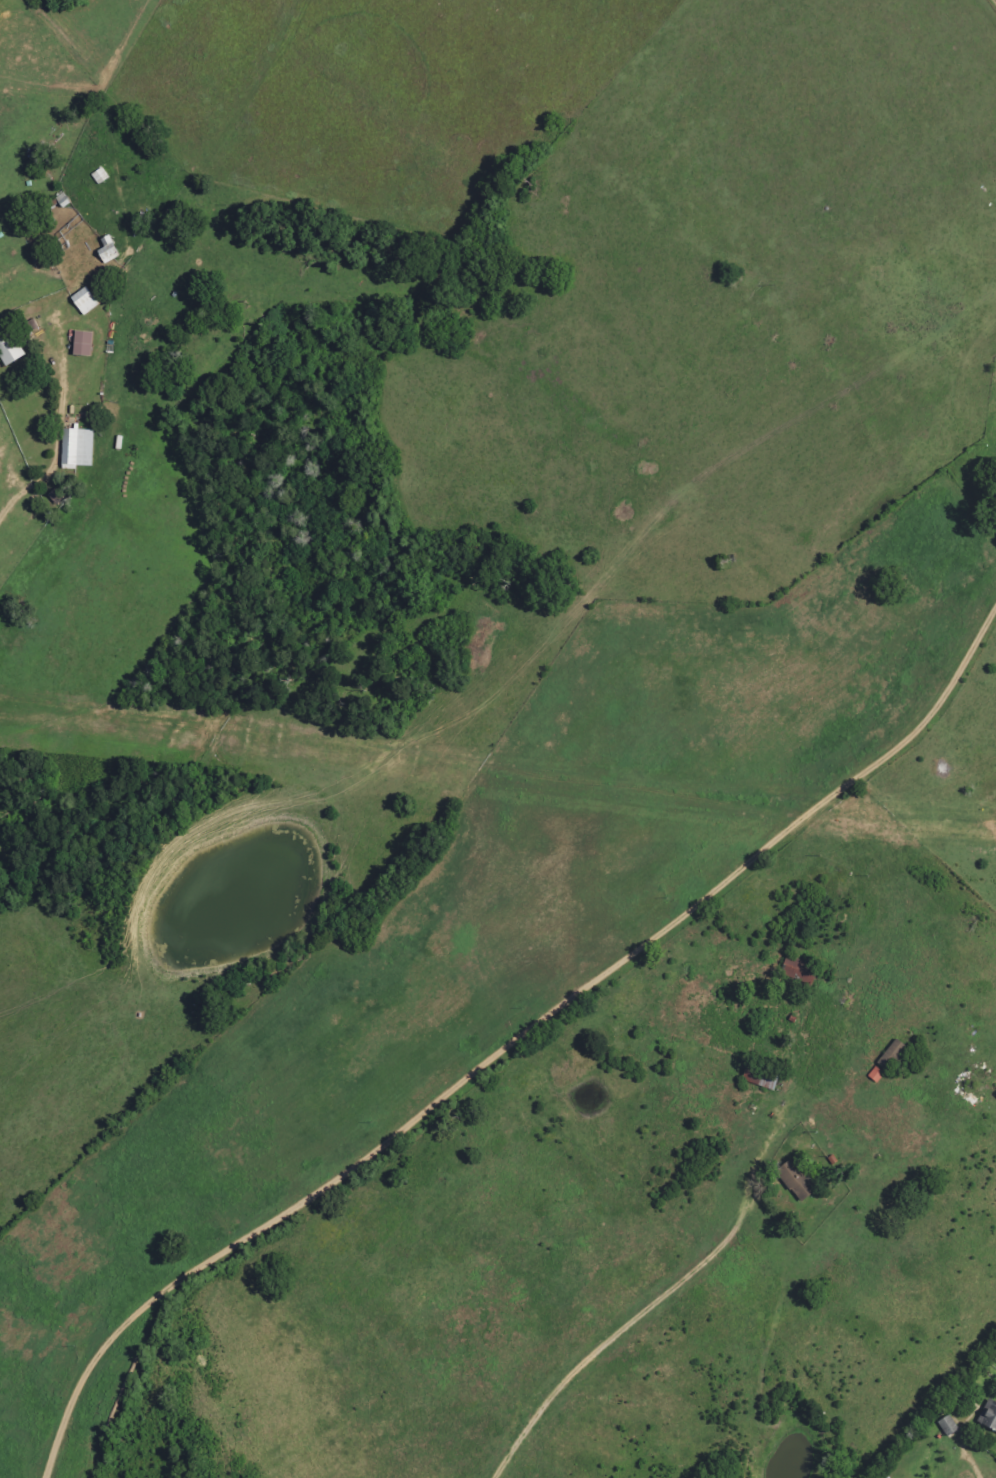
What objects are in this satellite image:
building: (110, 250)
building: (85, 343)
building: (10, 347)
road: (2, 359)
building: (80, 448)
road: (522, 1070)
building: (798, 1178)
road: (638, 1327)
building: (989, 1414)
road: (983, 1471)

